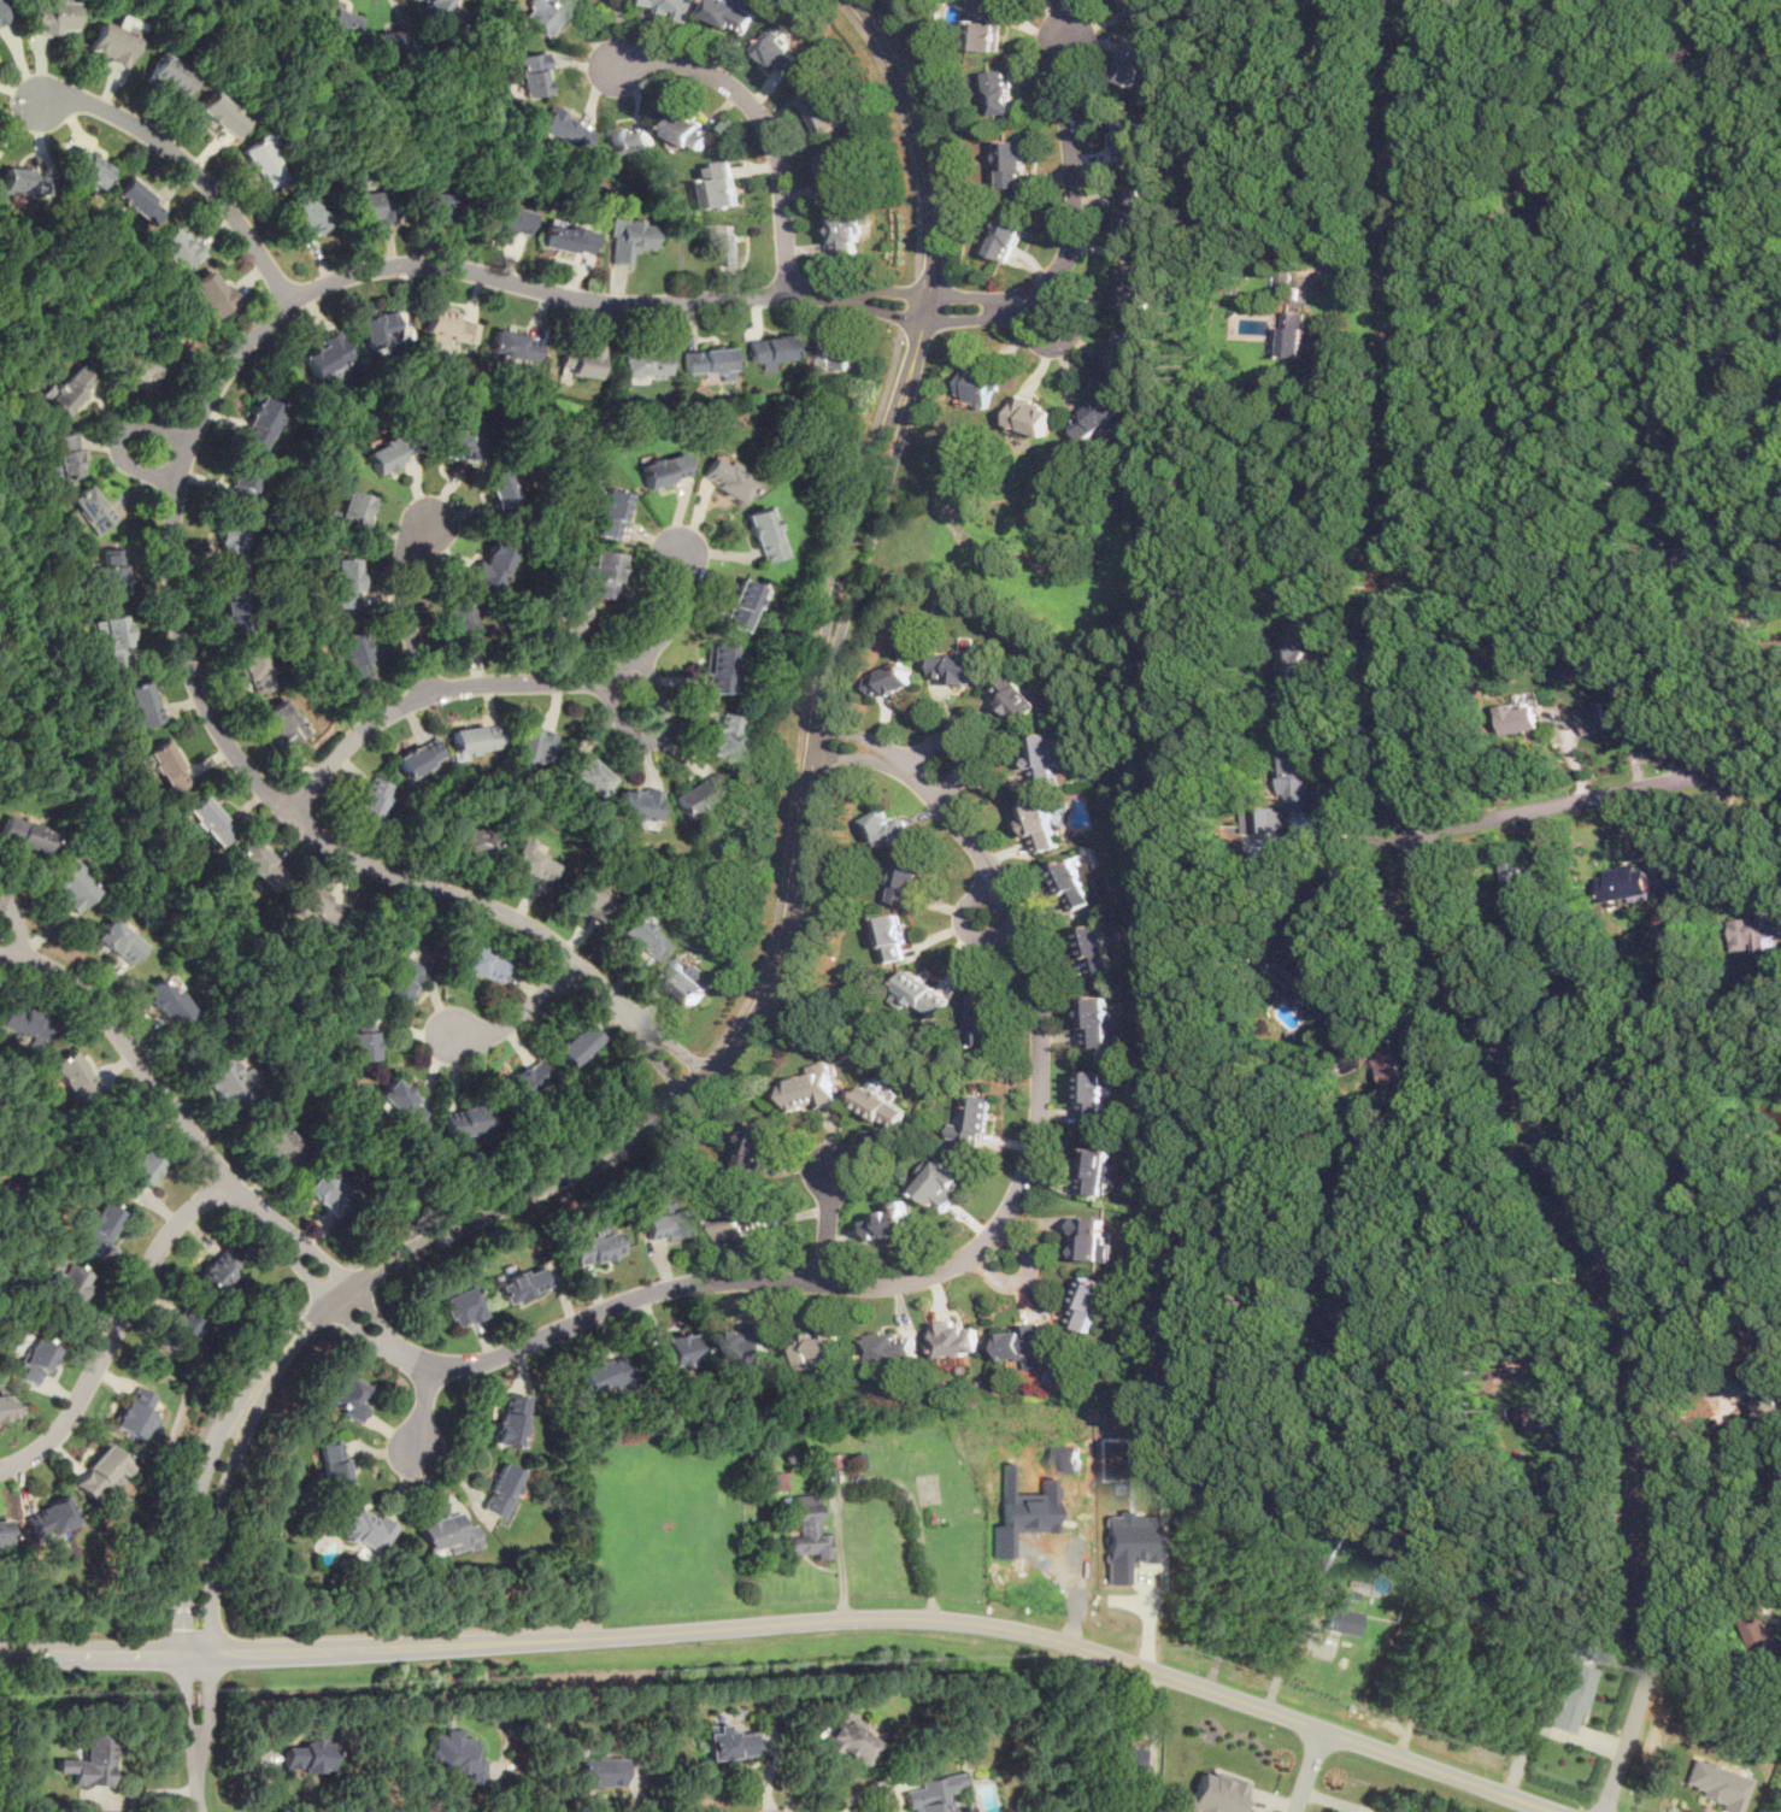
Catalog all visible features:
road: (1686, 1)
building: (670, 6)
building: (1138, 6)
building: (436, 7)
building: (2, 13)
building: (546, 13)
building: (733, 13)
building: (48, 17)
building: (336, 19)
building: (984, 27)
building: (113, 39)
building: (1697, 40)
building: (388, 41)
building: (782, 51)
building: (1135, 61)
building: (531, 73)
building: (170, 75)
building: (999, 90)
building: (823, 105)
building: (224, 113)
road: (763, 119)
building: (565, 129)
building: (692, 129)
road: (906, 129)
building: (1132, 135)
building: (631, 137)
road: (470, 152)
building: (1012, 161)
building: (264, 163)
road: (186, 164)
building: (87, 169)
building: (840, 172)
building: (24, 181)
building: (721, 184)
building: (1544, 198)
building: (137, 201)
building: (431, 206)
building: (371, 208)
building: (1134, 211)
building: (305, 214)
road: (1072, 220)
building: (502, 222)
building: (848, 231)
building: (1007, 233)
building: (627, 239)
building: (566, 241)
building: (727, 242)
building: (178, 248)
road: (1351, 258)
building: (1132, 286)
building: (211, 293)
road: (912, 301)
road: (121, 317)
building: (446, 328)
building: (378, 330)
road: (4, 333)
building: (1292, 333)
road: (1062, 342)
building: (513, 346)
building: (768, 349)
building: (1130, 351)
building: (831, 353)
building: (324, 357)
building: (581, 361)
building: (707, 361)
building: (641, 364)
building: (135, 367)
building: (976, 386)
building: (67, 389)
building: (1030, 413)
building: (1097, 414)
building: (258, 423)
road: (118, 440)
building: (455, 446)
building: (388, 453)
building: (63, 457)
building: (663, 470)
building: (725, 478)
road: (176, 481)
building: (241, 481)
building: (500, 487)
building: (1685, 498)
building: (90, 508)
building: (351, 513)
building: (610, 513)
building: (764, 534)
building: (229, 540)
building: (490, 563)
building: (108, 572)
building: (604, 573)
building: (345, 582)
building: (742, 604)
road: (402, 605)
building: (234, 606)
building: (566, 622)
building: (462, 628)
building: (112, 639)
building: (1301, 653)
building: (352, 658)
road: (1723, 658)
building: (958, 665)
building: (254, 666)
building: (719, 669)
building: (890, 678)
road: (506, 683)
road: (805, 693)
building: (1018, 695)
building: (142, 705)
building: (1520, 716)
building: (1595, 716)
building: (282, 724)
road: (1751, 731)
building: (727, 737)
building: (474, 740)
road: (656, 740)
building: (533, 743)
road: (959, 745)
building: (1046, 758)
building: (417, 759)
building: (164, 765)
building: (586, 772)
building: (1298, 772)
road: (1598, 792)
building: (698, 794)
building: (371, 801)
building: (637, 802)
building: (208, 822)
building: (1040, 824)
building: (886, 826)
building: (1266, 826)
building: (23, 835)
building: (469, 841)
building: (531, 860)
building: (257, 861)
building: (906, 878)
road: (165, 881)
building: (1626, 881)
building: (1075, 883)
building: (71, 886)
building: (1512, 892)
building: (590, 896)
building: (315, 904)
road: (1353, 922)
road: (13, 924)
road: (965, 925)
building: (1754, 928)
road: (1444, 931)
building: (893, 935)
building: (643, 936)
building: (118, 940)
building: (1098, 948)
building: (481, 961)
building: (689, 977)
building: (401, 982)
building: (1306, 982)
building: (924, 994)
building: (167, 1001)
road: (517, 1014)
building: (986, 1019)
building: (1099, 1019)
road: (751, 1020)
building: (23, 1022)
building: (360, 1041)
building: (577, 1045)
building: (1388, 1063)
road: (688, 1075)
building: (72, 1076)
road: (146, 1079)
building: (527, 1081)
building: (229, 1082)
building: (812, 1086)
building: (1095, 1093)
building: (882, 1102)
building: (399, 1104)
building: (465, 1120)
building: (972, 1120)
building: (277, 1145)
building: (757, 1145)
building: (1098, 1169)
building: (139, 1175)
road: (506, 1182)
building: (940, 1182)
building: (1705, 1184)
building: (327, 1187)
road: (830, 1219)
building: (742, 1220)
building: (890, 1220)
building: (668, 1222)
building: (99, 1228)
building: (1088, 1236)
building: (593, 1248)
building: (217, 1270)
road: (1023, 1275)
road: (716, 1279)
road: (1482, 1283)
road: (327, 1284)
building: (519, 1284)
building: (65, 1287)
road: (1692, 1290)
building: (1087, 1302)
building: (460, 1306)
road: (112, 1328)
building: (1356, 1329)
building: (181, 1330)
building: (956, 1339)
building: (1022, 1342)
building: (751, 1345)
building: (893, 1345)
building: (819, 1346)
building: (674, 1352)
building: (35, 1361)
building: (604, 1373)
building: (1765, 1395)
building: (347, 1398)
road: (423, 1410)
building: (134, 1411)
building: (1, 1412)
building: (1540, 1416)
building: (507, 1419)
road: (193, 1446)
building: (829, 1461)
building: (334, 1466)
building: (101, 1473)
road: (875, 1475)
building: (776, 1481)
building: (499, 1490)
road: (1726, 1490)
building: (1203, 1504)
building: (51, 1518)
building: (363, 1528)
building: (807, 1529)
building: (2, 1534)
building: (445, 1534)
building: (1128, 1545)
building: (1339, 1612)
road: (1222, 1616)
road: (790, 1625)
building: (1764, 1634)
building: (1456, 1637)
road: (1282, 1657)
road: (1418, 1695)
building: (1571, 1698)
building: (851, 1740)
building: (729, 1743)
building: (308, 1754)
building: (458, 1757)
building: (1127, 1757)
building: (90, 1761)
building: (599, 1771)
road: (1307, 1771)
building: (1716, 1784)
road: (878, 1788)
building: (933, 1793)
building: (1212, 1795)

